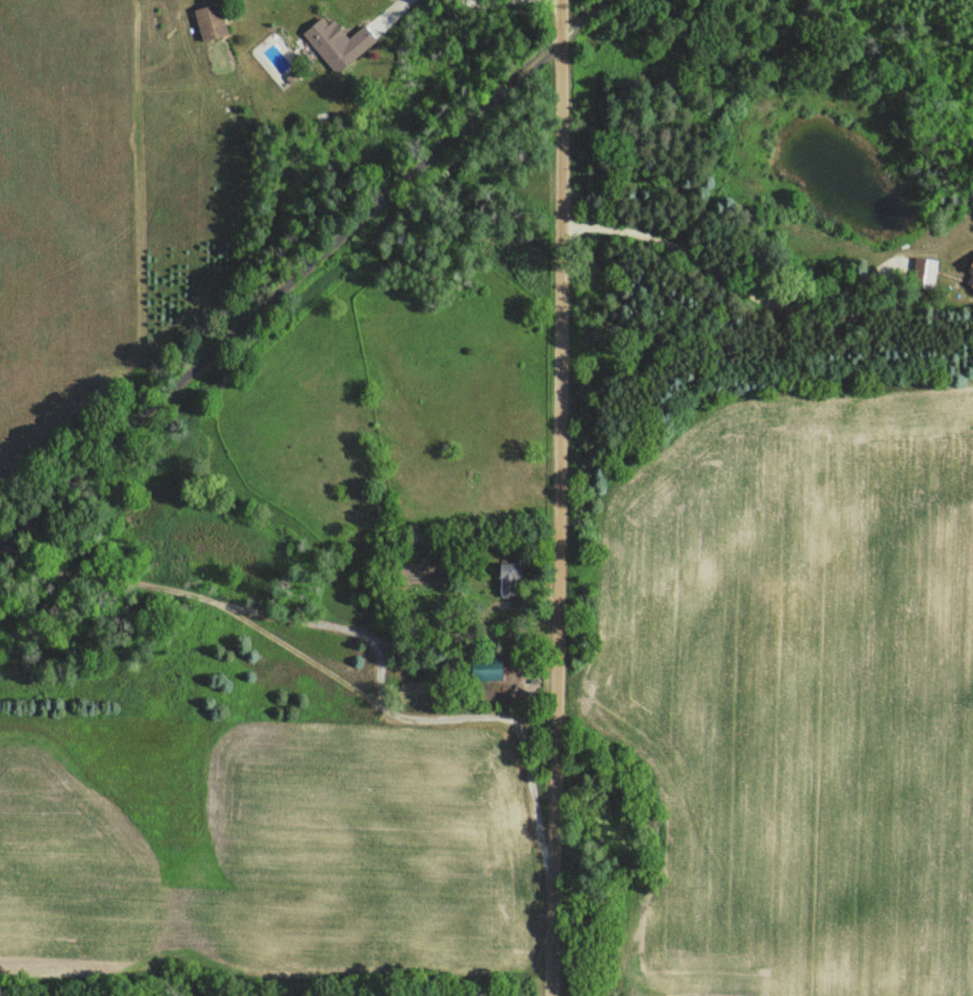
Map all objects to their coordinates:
road: (581, 18)
building: (207, 25)
building: (336, 46)
building: (970, 270)
building: (926, 275)
road: (281, 295)
road: (557, 498)
building: (507, 582)
building: (480, 673)

